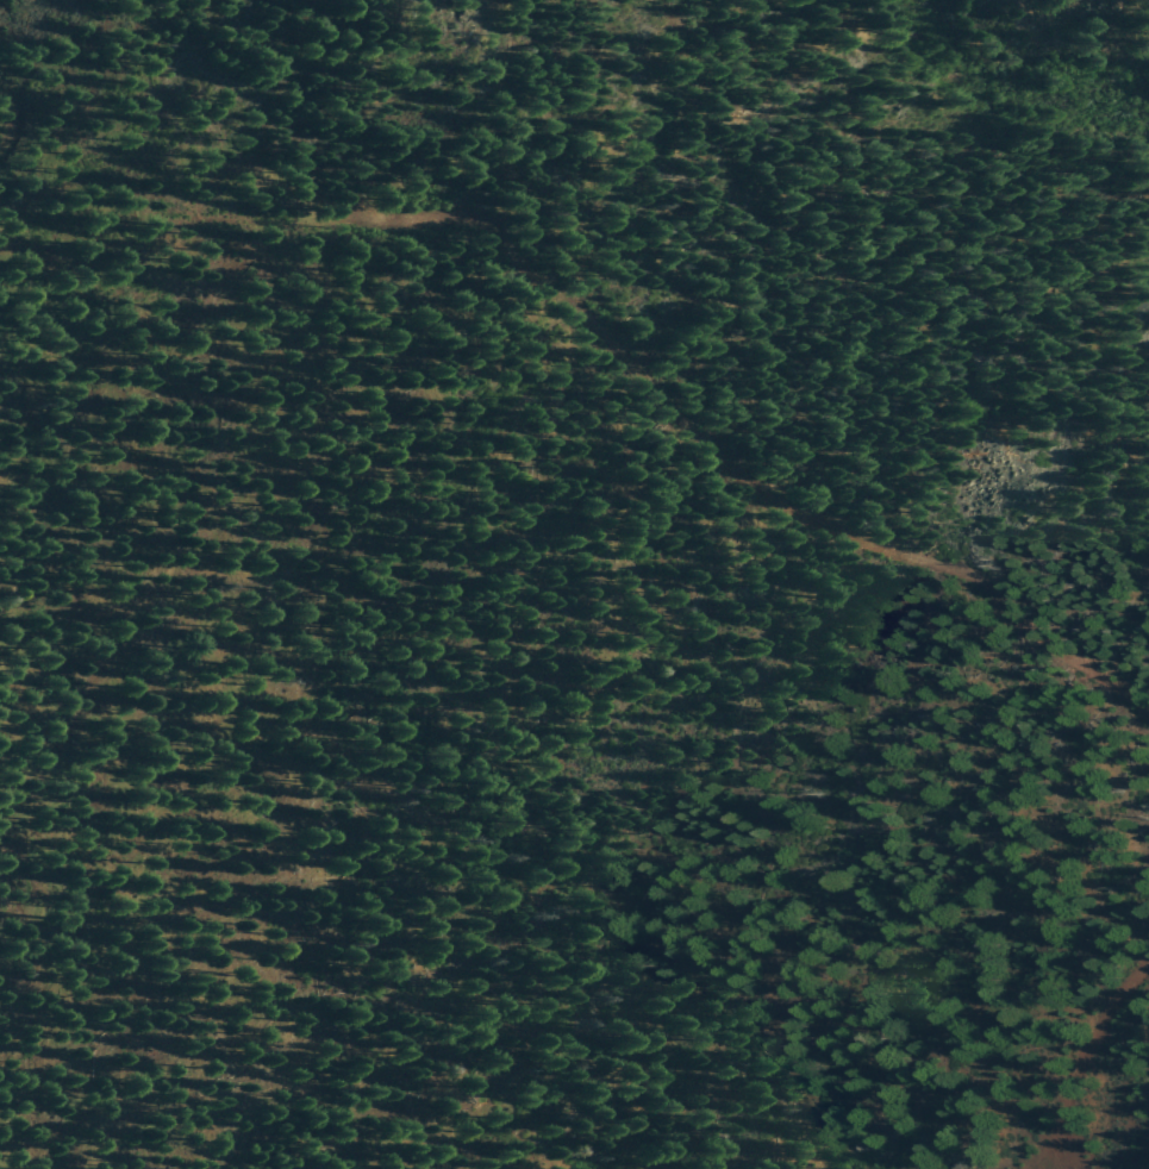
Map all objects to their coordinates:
road: (1098, 23)
road: (15, 112)
road: (610, 352)

